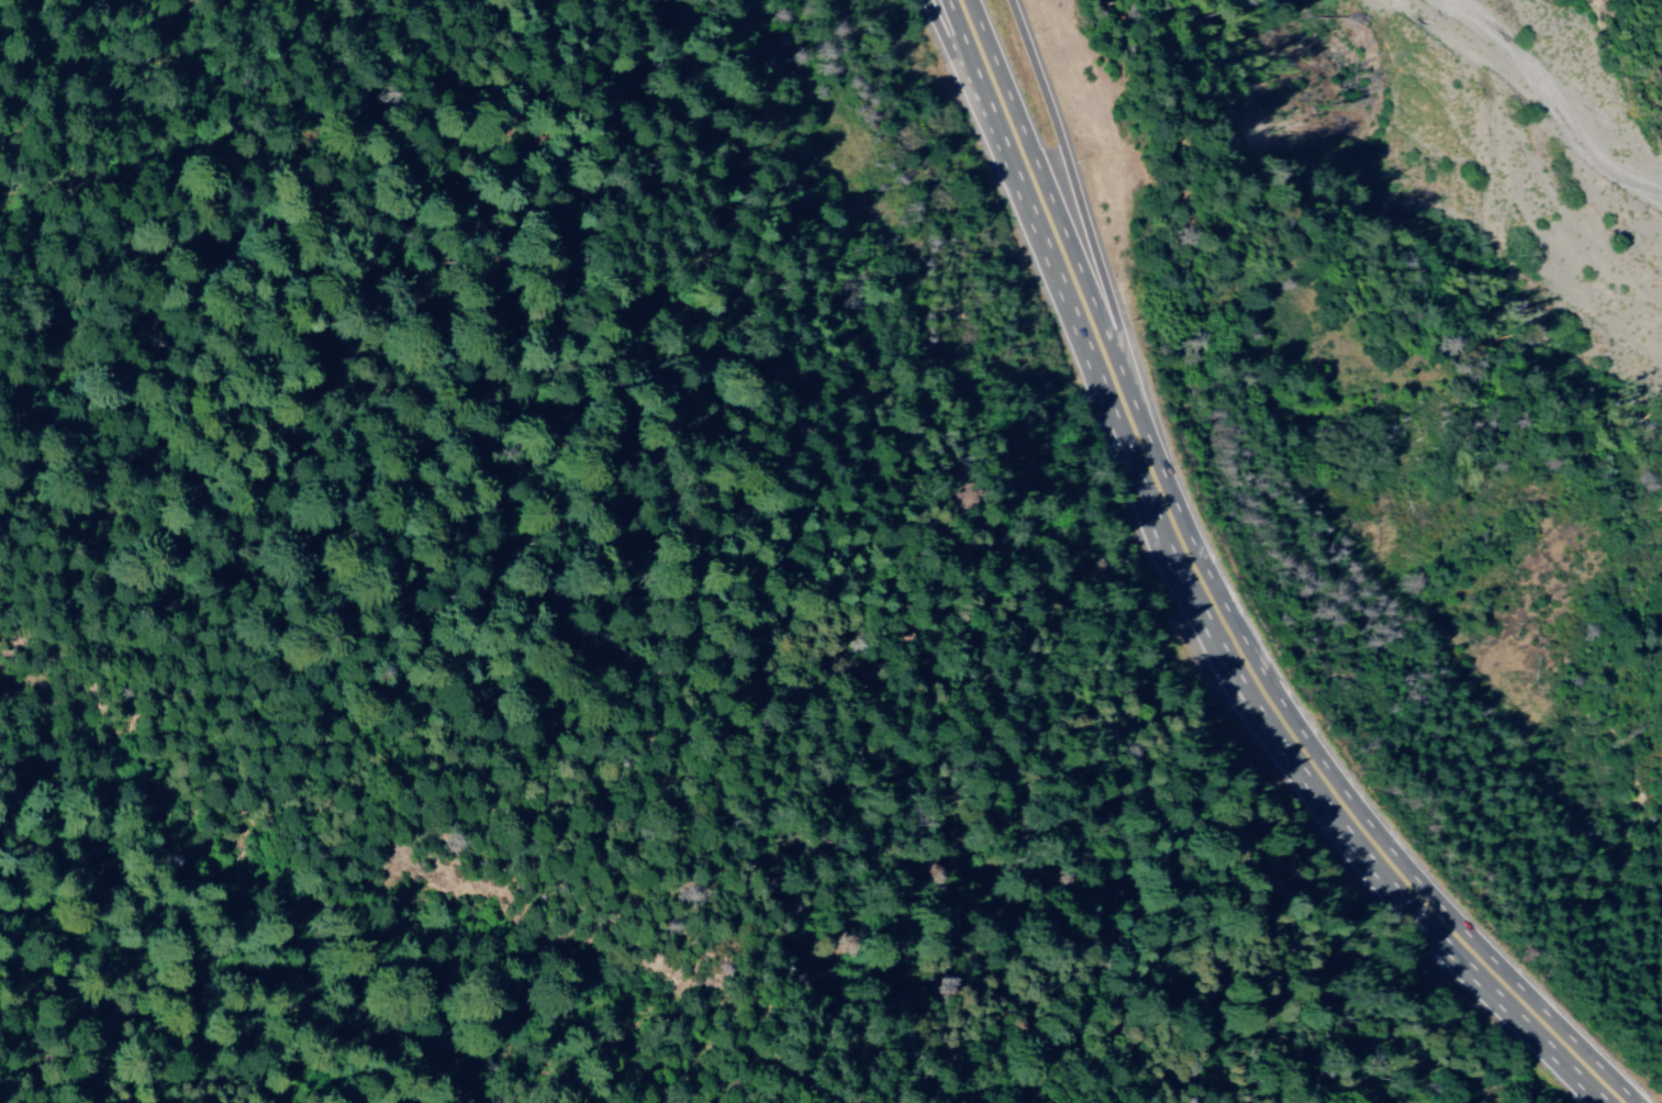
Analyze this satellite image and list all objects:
road: (995, 78)
road: (971, 80)
road: (1067, 177)
road: (1066, 258)
road: (1309, 768)

